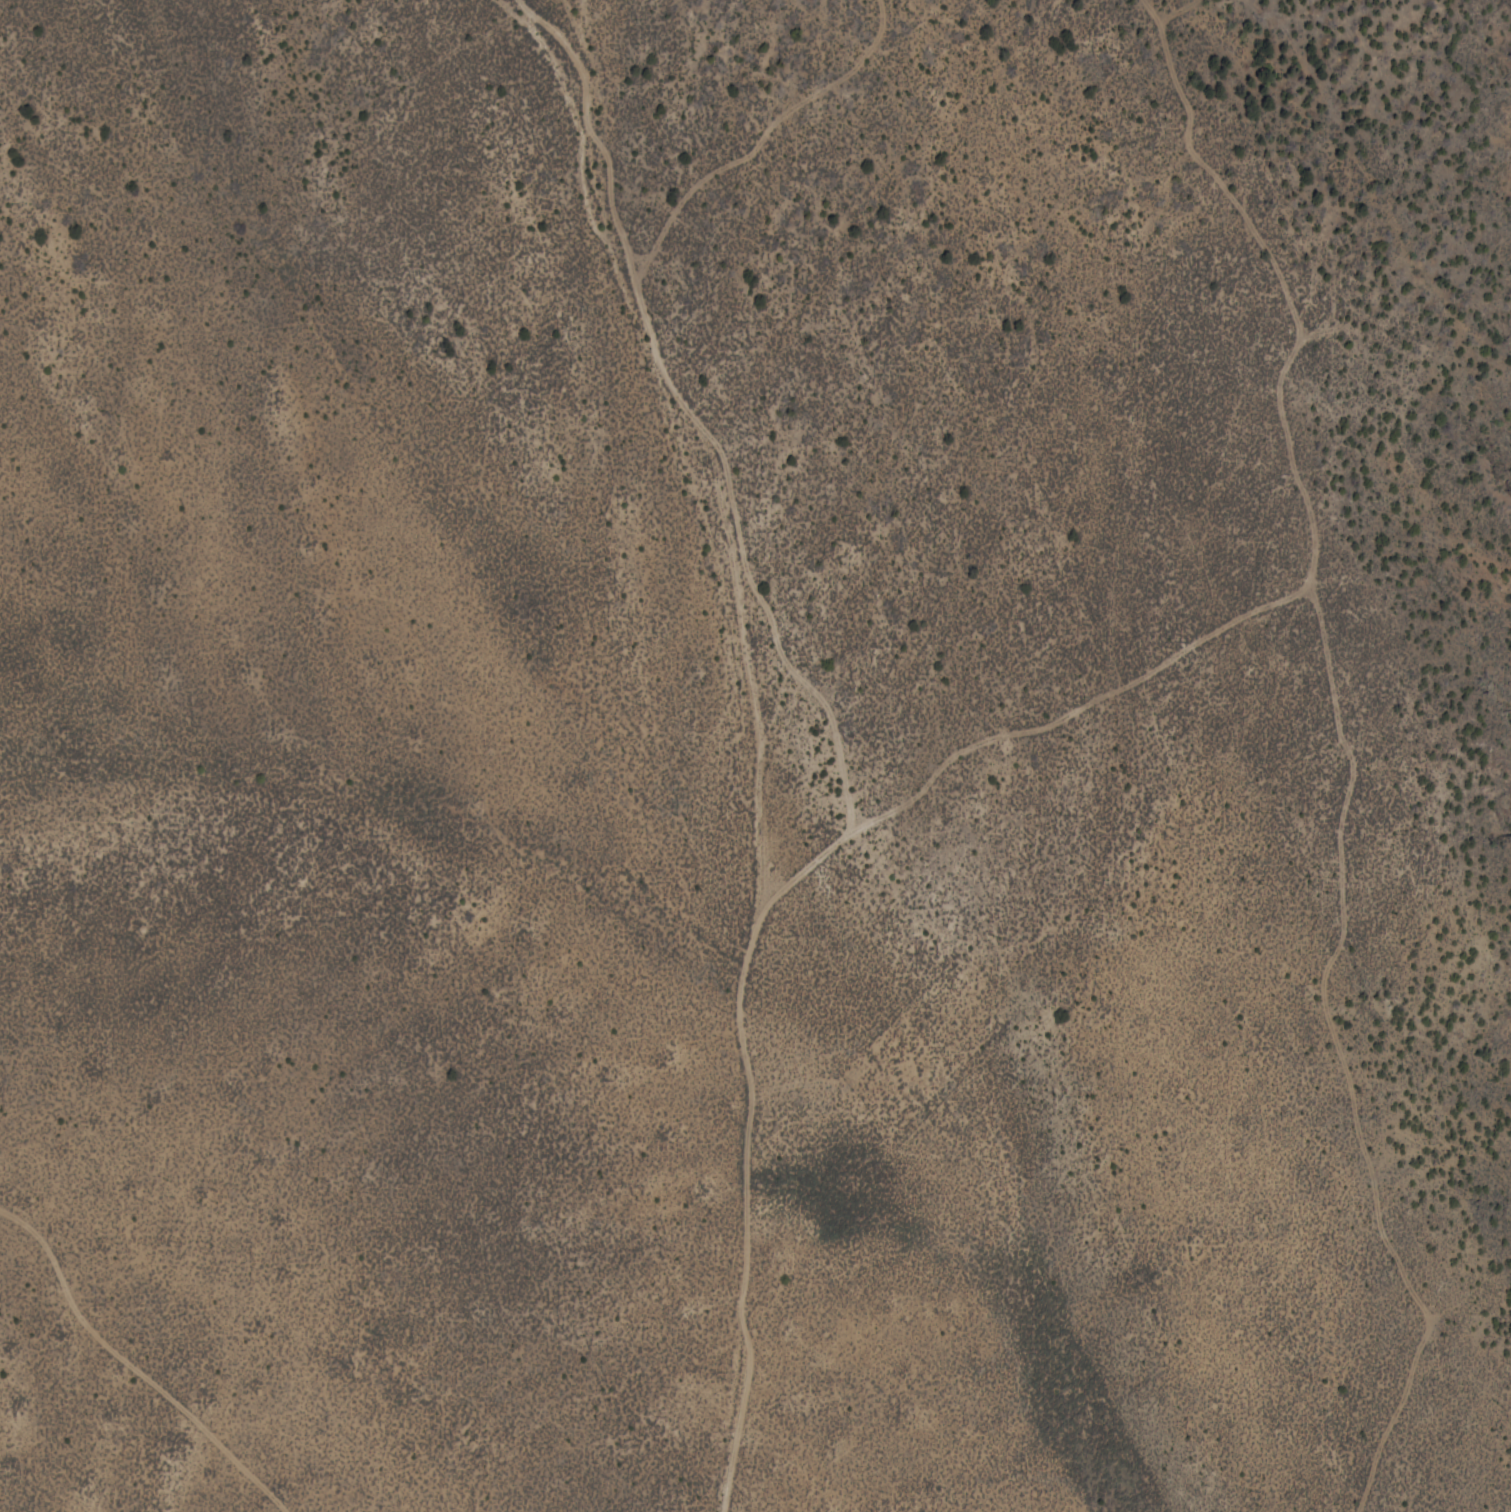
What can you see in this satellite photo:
road: (763, 743)
road: (151, 1330)

